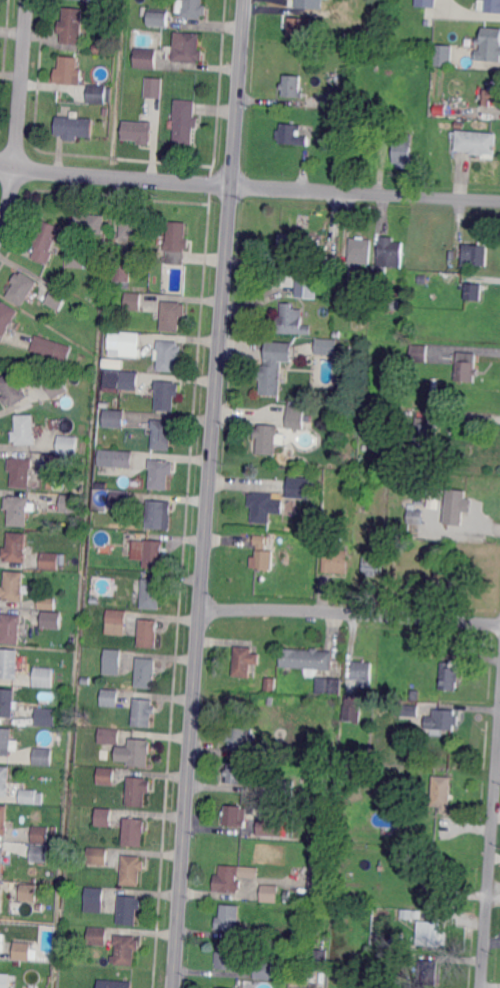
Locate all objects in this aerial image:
building: (106, 2)
building: (307, 3)
building: (425, 3)
building: (489, 6)
building: (194, 9)
road: (469, 11)
building: (340, 16)
building: (159, 18)
building: (426, 23)
building: (73, 25)
building: (299, 27)
building: (488, 45)
building: (189, 48)
building: (98, 49)
building: (443, 56)
building: (146, 58)
building: (68, 72)
building: (293, 86)
building: (155, 87)
building: (98, 95)
building: (489, 96)
building: (336, 98)
building: (128, 99)
building: (441, 110)
building: (419, 117)
road: (19, 118)
building: (186, 121)
building: (460, 124)
building: (346, 125)
building: (354, 125)
building: (75, 128)
building: (139, 131)
building: (293, 134)
building: (476, 142)
building: (403, 149)
road: (8, 164)
road: (257, 186)
building: (90, 222)
building: (136, 227)
building: (46, 241)
building: (177, 242)
building: (293, 244)
building: (361, 250)
building: (476, 254)
building: (451, 255)
building: (388, 256)
building: (77, 258)
building: (325, 262)
building: (122, 276)
building: (449, 279)
building: (422, 280)
building: (344, 282)
building: (25, 288)
building: (304, 292)
building: (473, 292)
building: (399, 293)
building: (59, 298)
building: (133, 301)
building: (390, 305)
building: (173, 315)
building: (293, 317)
building: (8, 319)
building: (338, 334)
building: (127, 343)
building: (325, 347)
building: (52, 348)
building: (419, 353)
building: (169, 355)
building: (108, 360)
building: (15, 364)
building: (274, 366)
building: (467, 366)
building: (129, 379)
building: (57, 385)
building: (13, 389)
building: (167, 394)
building: (370, 413)
building: (297, 416)
building: (115, 418)
building: (25, 429)
building: (164, 433)
building: (425, 433)
building: (268, 438)
building: (69, 444)
building: (124, 458)
building: (59, 462)
building: (22, 471)
building: (161, 473)
building: (349, 478)
building: (300, 487)
road: (209, 494)
building: (368, 494)
building: (120, 499)
building: (431, 500)
building: (72, 502)
building: (418, 502)
building: (261, 507)
building: (454, 507)
building: (18, 509)
building: (158, 514)
building: (414, 515)
building: (78, 524)
building: (121, 535)
building: (16, 547)
building: (150, 554)
building: (260, 555)
building: (334, 559)
building: (50, 560)
building: (372, 561)
building: (446, 568)
building: (428, 578)
building: (15, 586)
building: (153, 593)
building: (95, 599)
building: (48, 603)
road: (351, 612)
building: (53, 619)
building: (117, 622)
building: (11, 627)
building: (150, 633)
building: (341, 659)
building: (113, 660)
building: (246, 660)
building: (306, 660)
building: (9, 664)
building: (340, 672)
building: (363, 672)
building: (147, 673)
building: (450, 675)
building: (44, 676)
building: (270, 684)
building: (329, 686)
building: (415, 694)
building: (110, 697)
building: (272, 699)
building: (8, 702)
building: (352, 707)
building: (407, 710)
building: (144, 712)
building: (46, 716)
building: (445, 719)
building: (109, 735)
building: (241, 738)
building: (7, 742)
building: (135, 753)
building: (105, 754)
building: (43, 755)
building: (237, 774)
building: (107, 776)
building: (407, 778)
building: (5, 780)
building: (283, 788)
building: (139, 790)
building: (442, 793)
building: (31, 795)
building: (236, 815)
building: (104, 817)
building: (3, 819)
building: (386, 819)
building: (273, 827)
building: (135, 831)
building: (41, 834)
building: (40, 853)
building: (97, 856)
road: (490, 856)
building: (419, 857)
building: (2, 860)
building: (132, 869)
building: (436, 873)
building: (227, 879)
building: (318, 879)
building: (29, 893)
building: (1, 894)
building: (270, 894)
building: (95, 898)
building: (129, 909)
building: (407, 912)
building: (229, 918)
building: (429, 933)
building: (255, 934)
building: (373, 935)
building: (99, 936)
building: (279, 946)
building: (126, 948)
building: (23, 951)
building: (364, 952)
building: (227, 958)
building: (362, 965)
building: (264, 971)
building: (428, 972)
building: (4, 980)
building: (115, 983)
building: (407, 983)
building: (216, 987)
building: (301, 987)

